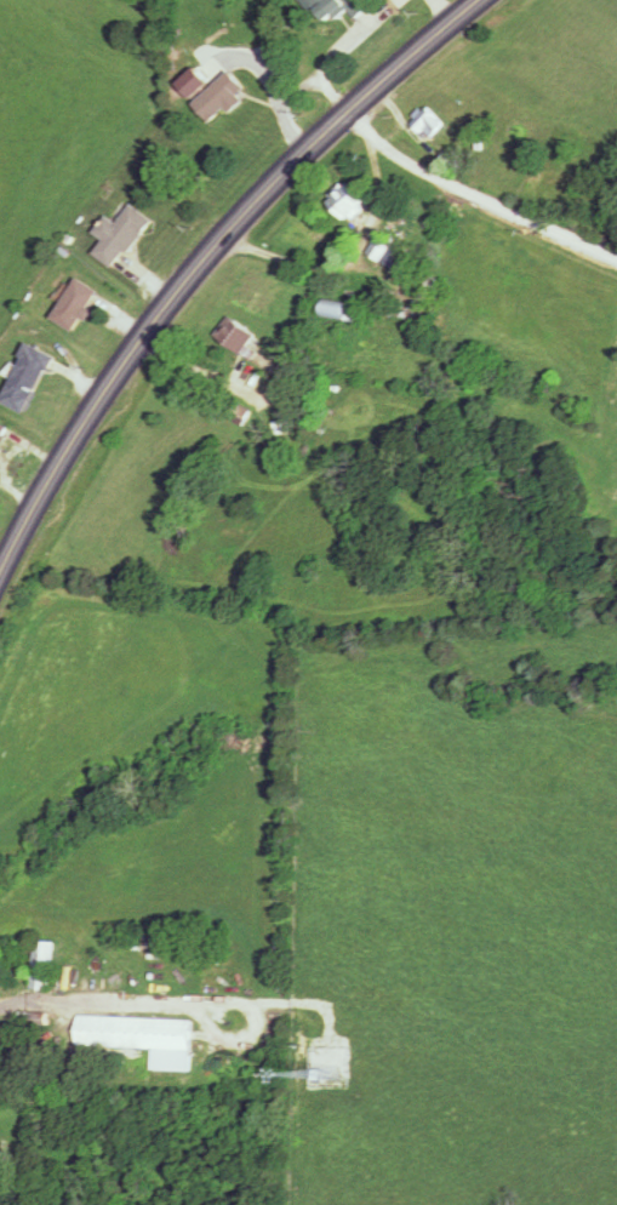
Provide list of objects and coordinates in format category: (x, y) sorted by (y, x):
building: (337, 7)
building: (219, 97)
building: (427, 124)
building: (344, 200)
building: (119, 234)
building: (376, 250)
road: (204, 256)
building: (73, 305)
building: (337, 310)
building: (233, 333)
building: (24, 378)
building: (2, 433)
building: (41, 966)
building: (131, 1033)

